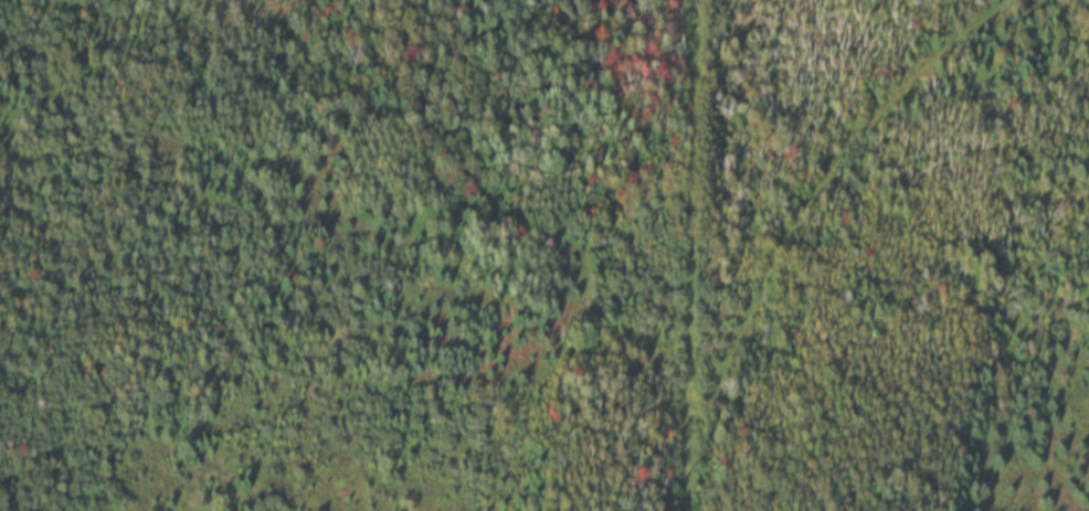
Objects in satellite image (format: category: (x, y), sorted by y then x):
road: (692, 255)

